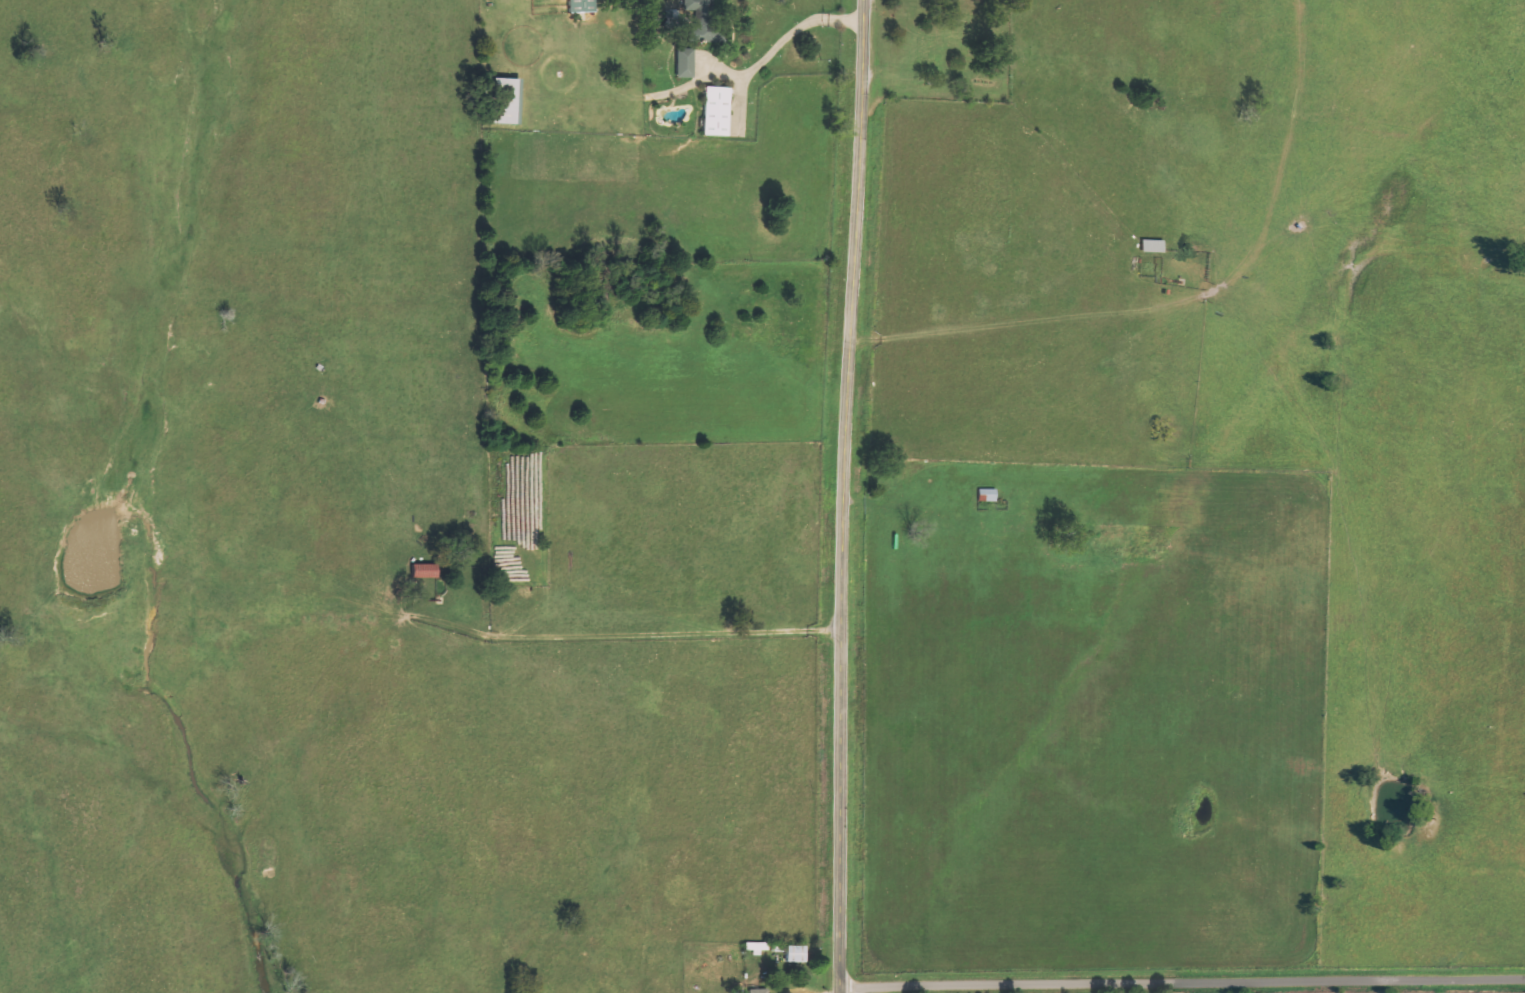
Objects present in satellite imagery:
building: (584, 6)
building: (705, 22)
building: (687, 63)
building: (508, 101)
building: (719, 111)
building: (988, 495)
road: (842, 496)
building: (426, 571)
building: (797, 954)
road: (1182, 982)
building: (761, 991)

